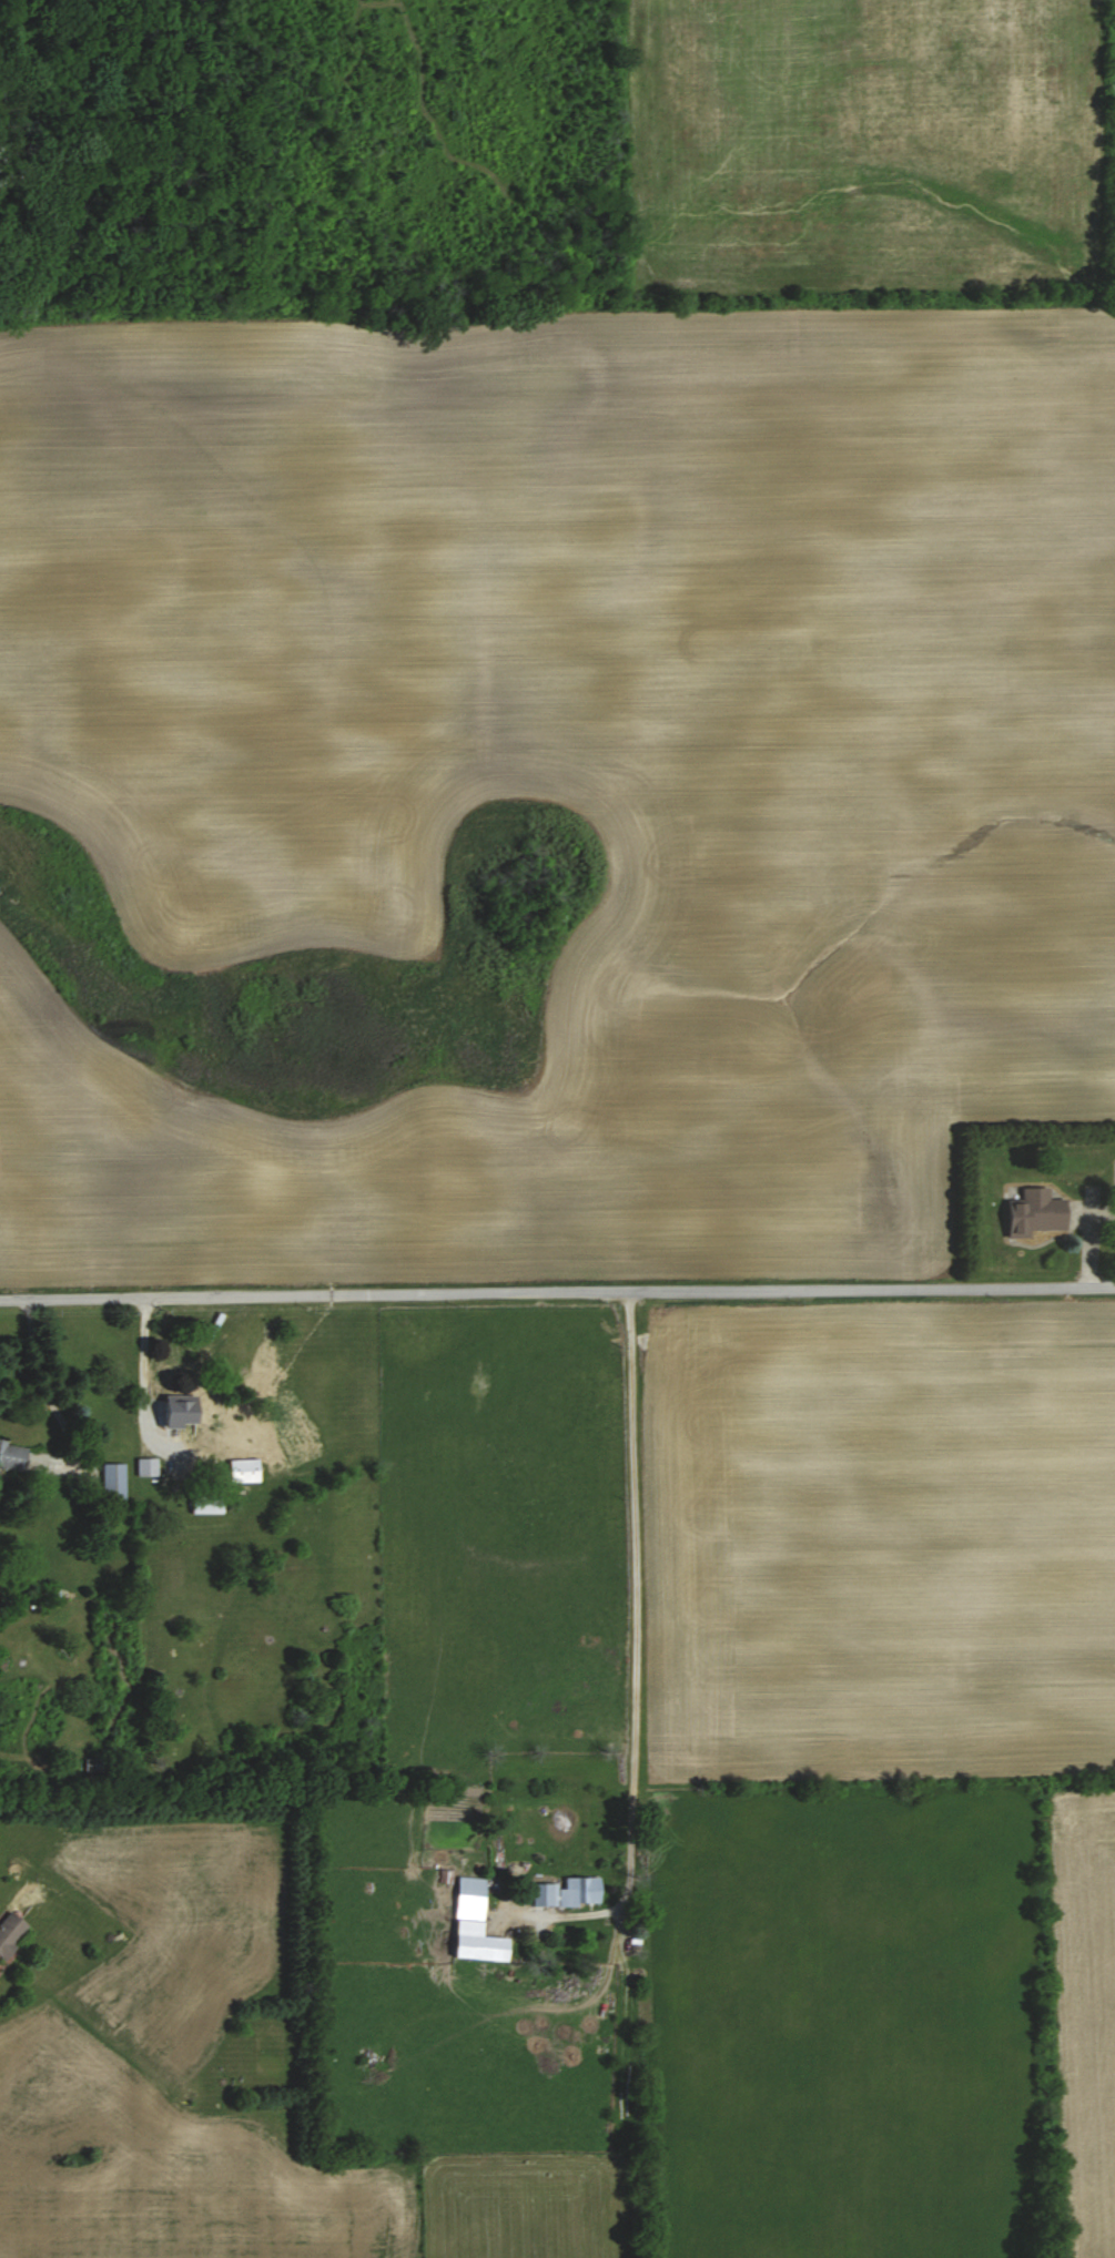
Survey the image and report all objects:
building: (1037, 1212)
road: (557, 1288)
road: (47, 1391)
road: (142, 1394)
building: (186, 1414)
building: (13, 1456)
building: (149, 1466)
building: (246, 1469)
building: (114, 1481)
building: (209, 1504)
road: (636, 1637)
building: (94, 1766)
building: (581, 1891)
building: (545, 1894)
building: (476, 1924)
building: (11, 1933)

